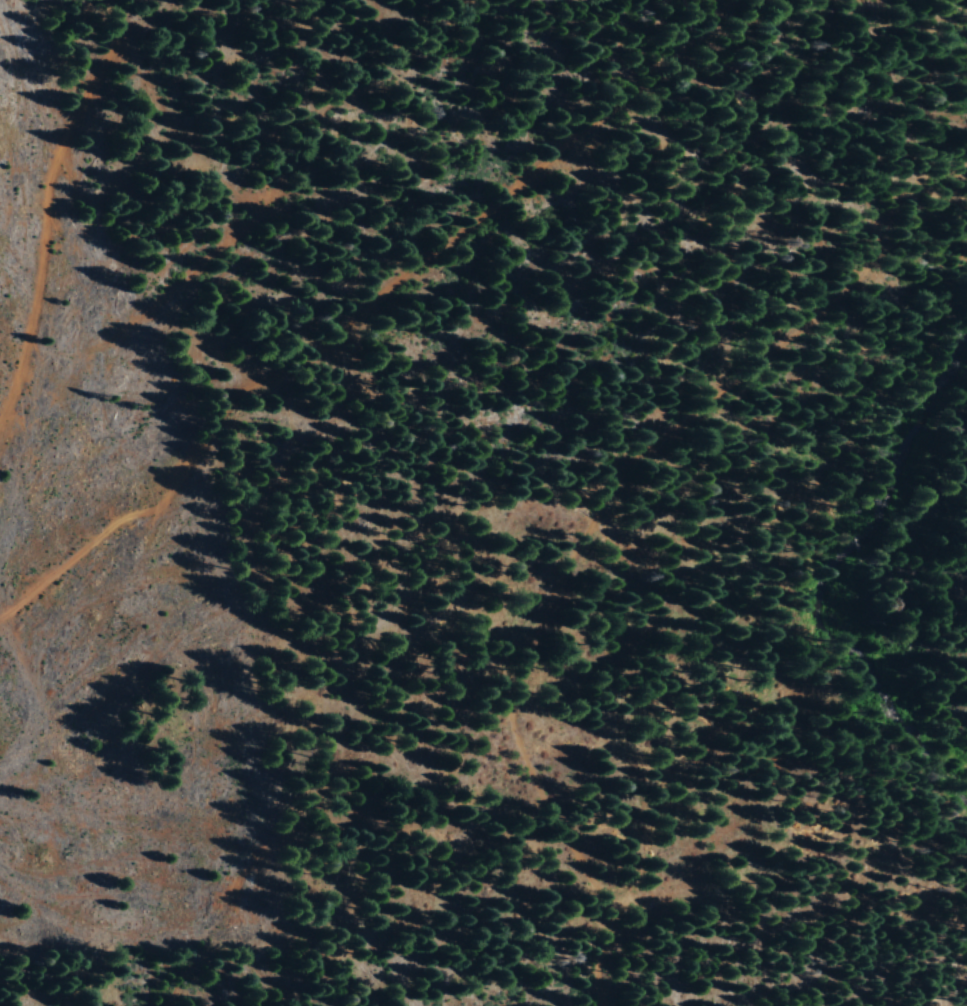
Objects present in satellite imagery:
road: (628, 528)

